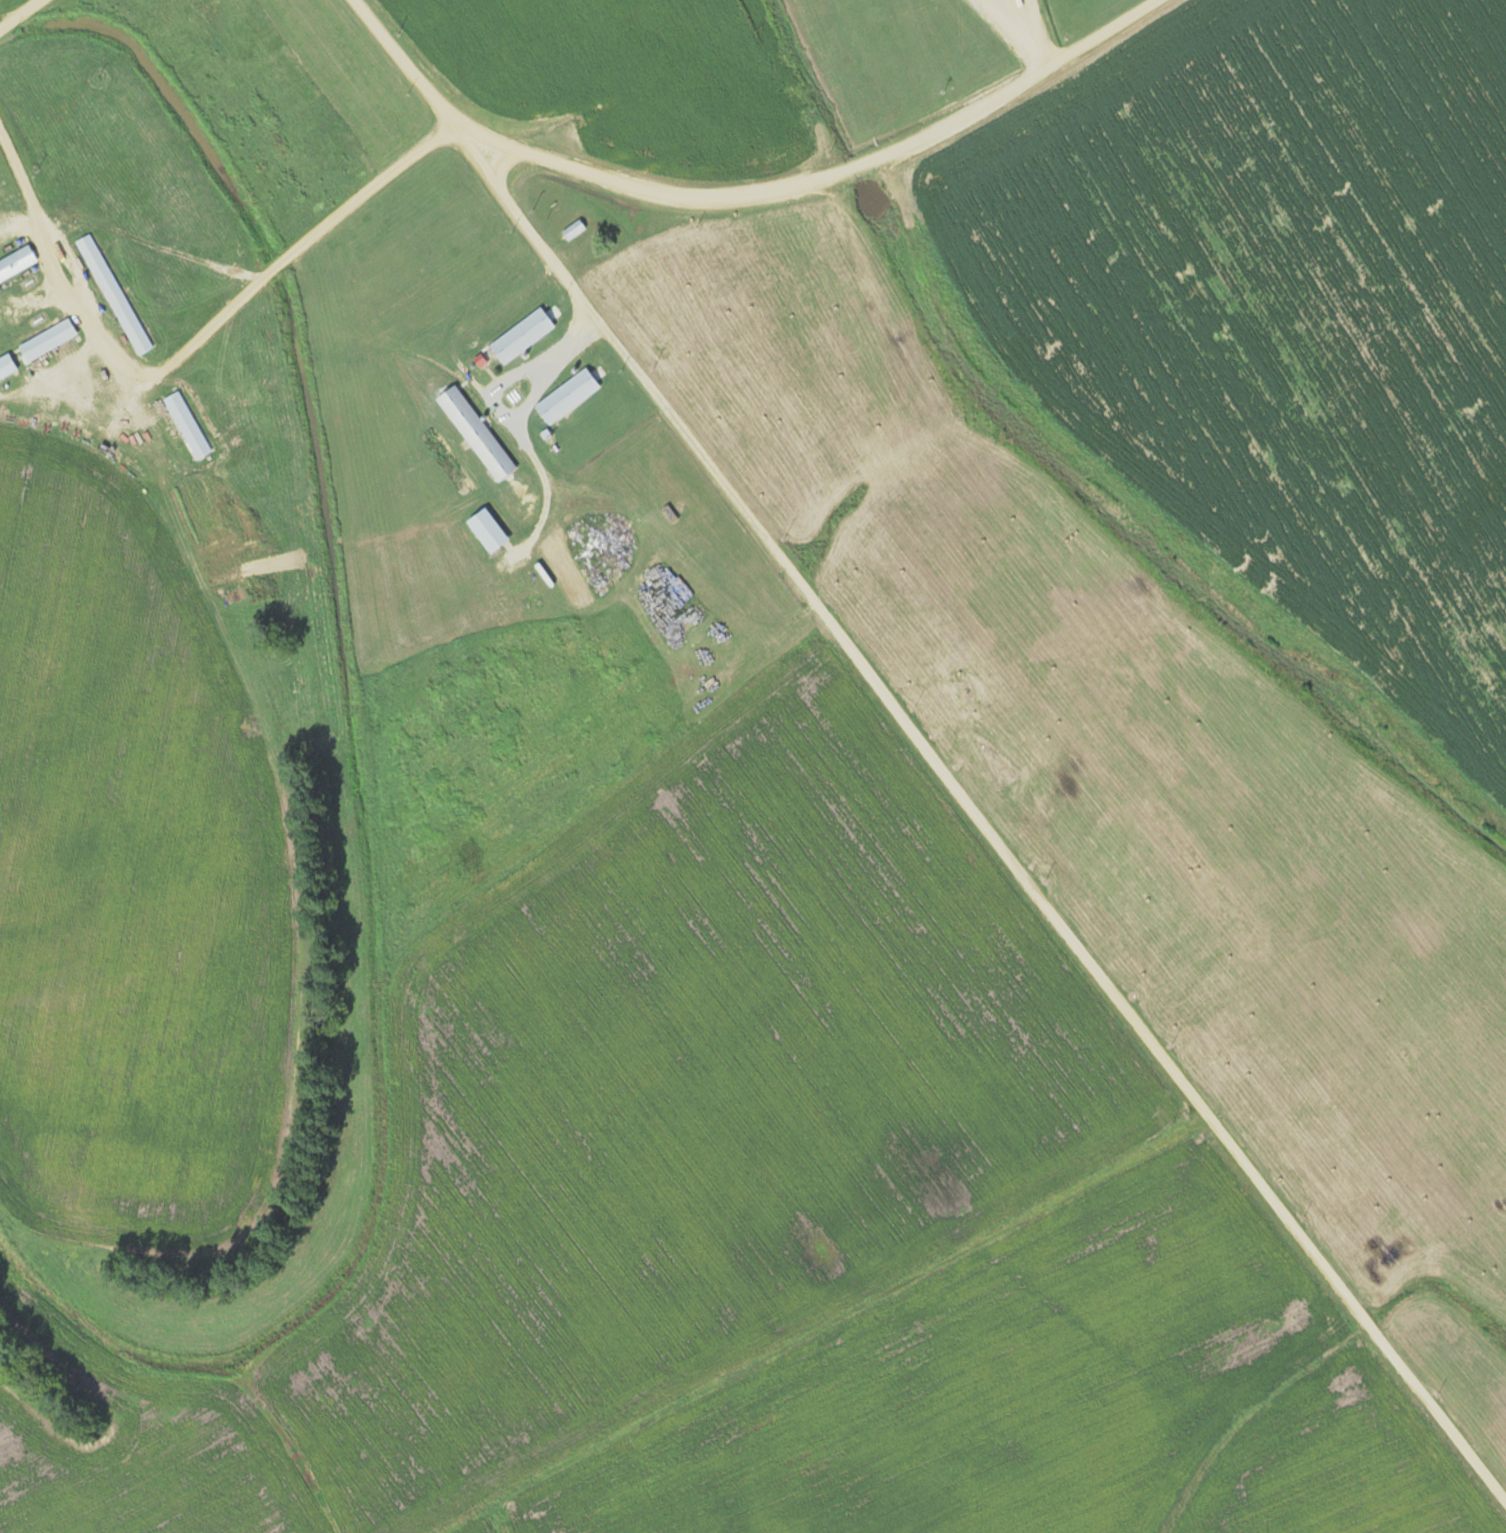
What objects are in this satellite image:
road: (17, 13)
road: (731, 197)
building: (572, 229)
building: (16, 262)
building: (113, 294)
building: (521, 335)
road: (193, 337)
building: (46, 340)
building: (6, 365)
building: (566, 396)
building: (186, 425)
building: (475, 433)
building: (670, 514)
building: (486, 530)
road: (999, 852)

